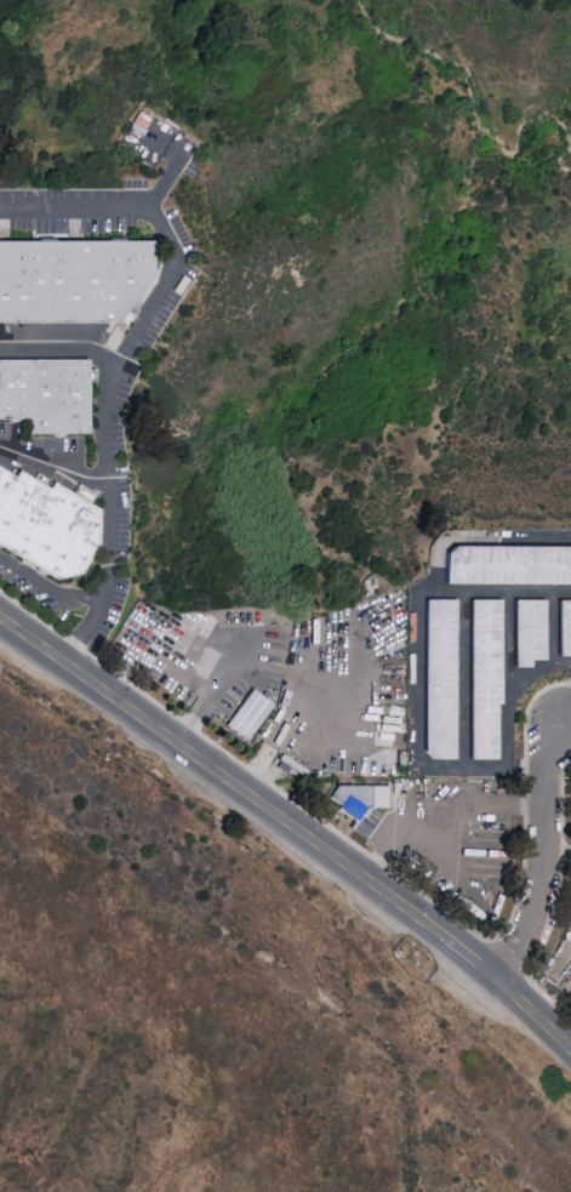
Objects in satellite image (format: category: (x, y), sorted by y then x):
road: (173, 169)
building: (73, 276)
road: (61, 342)
road: (118, 355)
building: (47, 392)
road: (55, 466)
building: (48, 523)
road: (480, 538)
building: (507, 564)
road: (47, 583)
road: (503, 589)
building: (563, 627)
building: (524, 631)
road: (205, 646)
road: (552, 649)
road: (561, 662)
road: (506, 677)
building: (435, 678)
road: (463, 678)
building: (480, 678)
building: (249, 714)
road: (567, 715)
road: (347, 732)
road: (419, 732)
building: (365, 799)
road: (479, 803)
road: (291, 825)
road: (392, 851)
road: (556, 854)
road: (541, 857)

